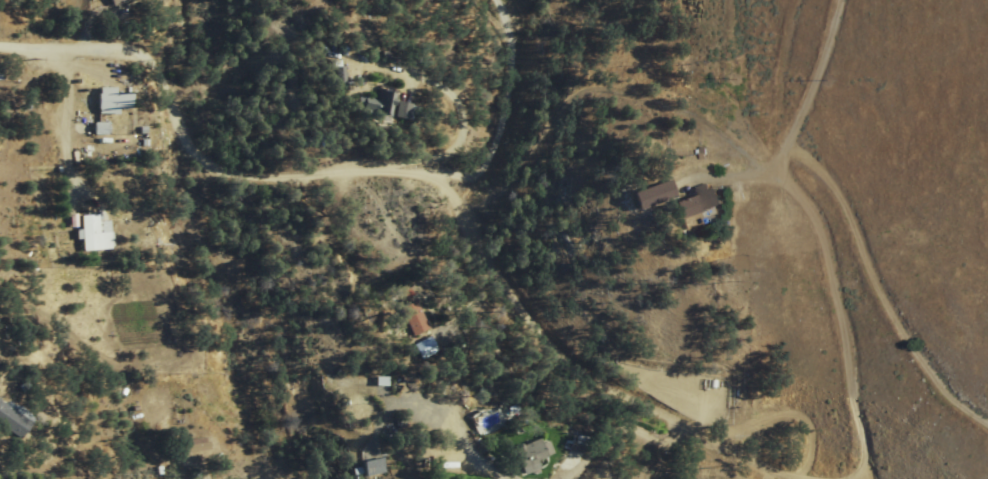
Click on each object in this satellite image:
building: (113, 2)
road: (140, 41)
building: (335, 72)
building: (109, 100)
building: (379, 104)
road: (69, 118)
building: (649, 195)
building: (697, 201)
building: (96, 233)
building: (412, 318)
building: (426, 348)
building: (14, 420)
building: (193, 445)
building: (530, 454)
road: (801, 474)

